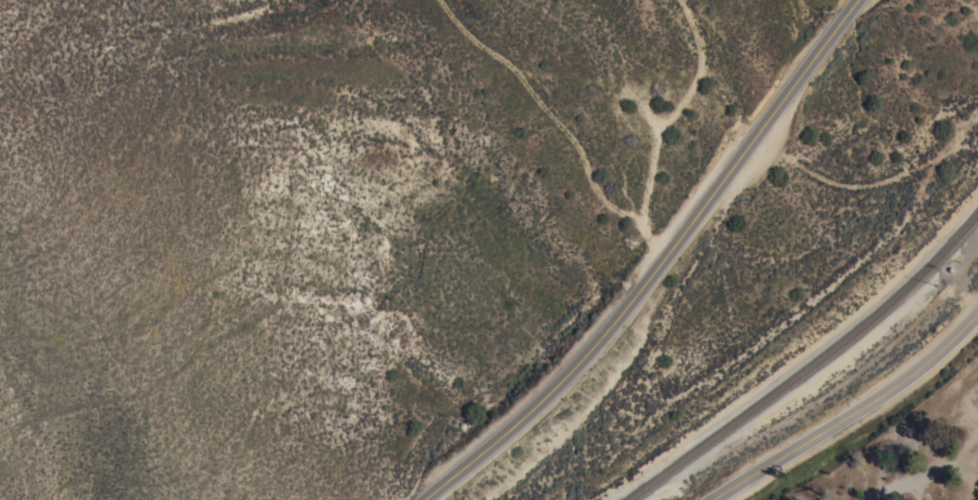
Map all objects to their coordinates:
road: (656, 267)
railway: (810, 365)
road: (852, 412)
road: (931, 477)

